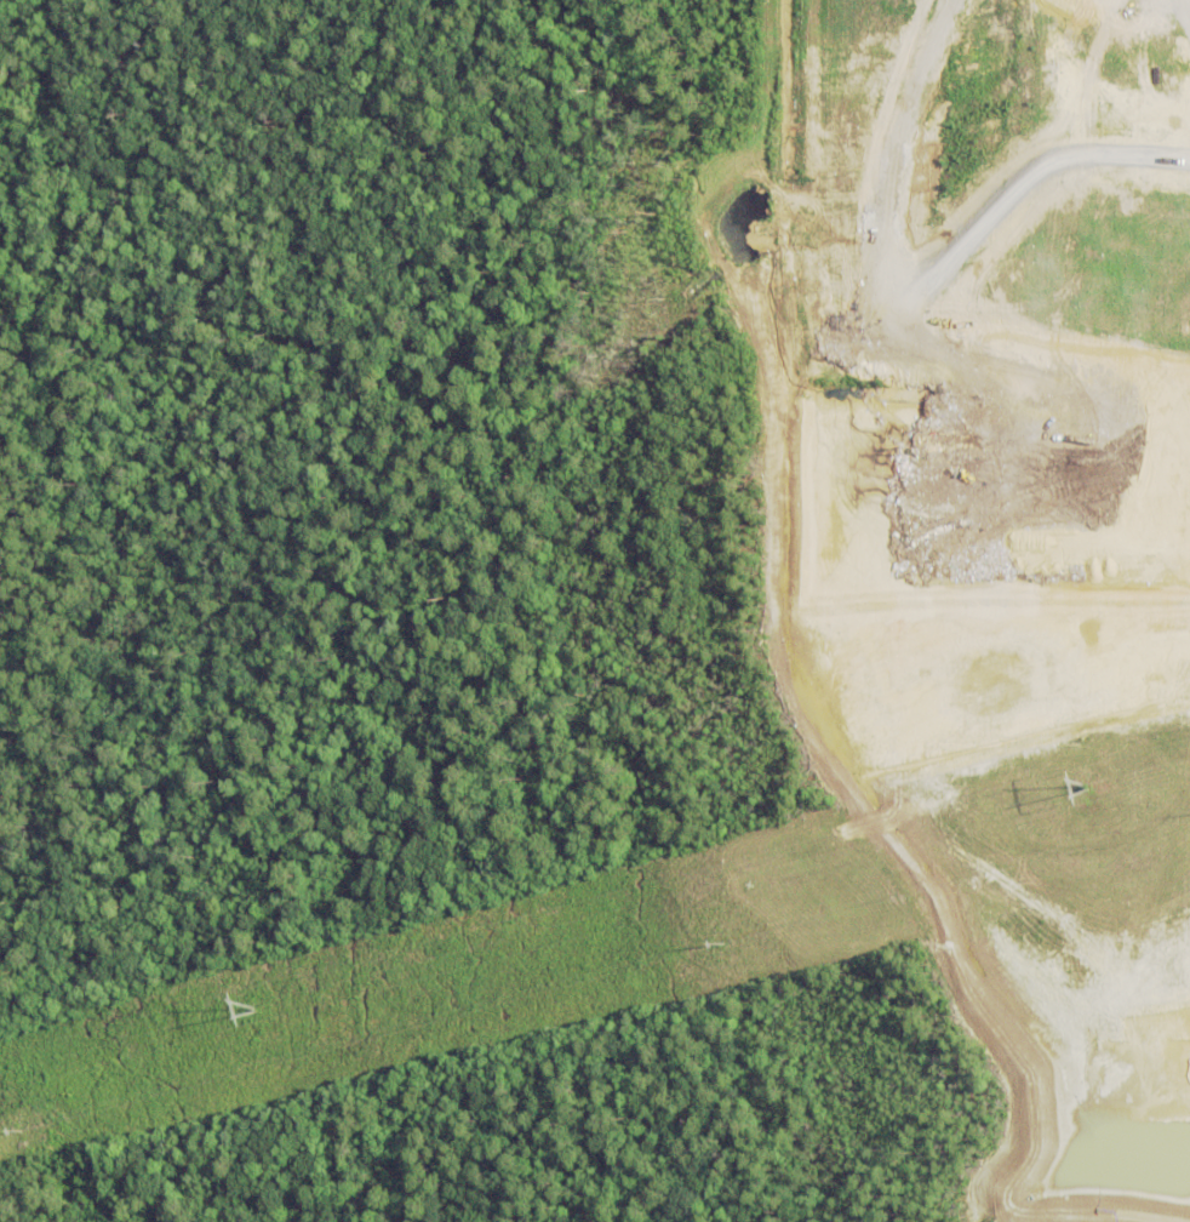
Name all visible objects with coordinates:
power tower: (1087, 789)
power tower: (254, 1012)

